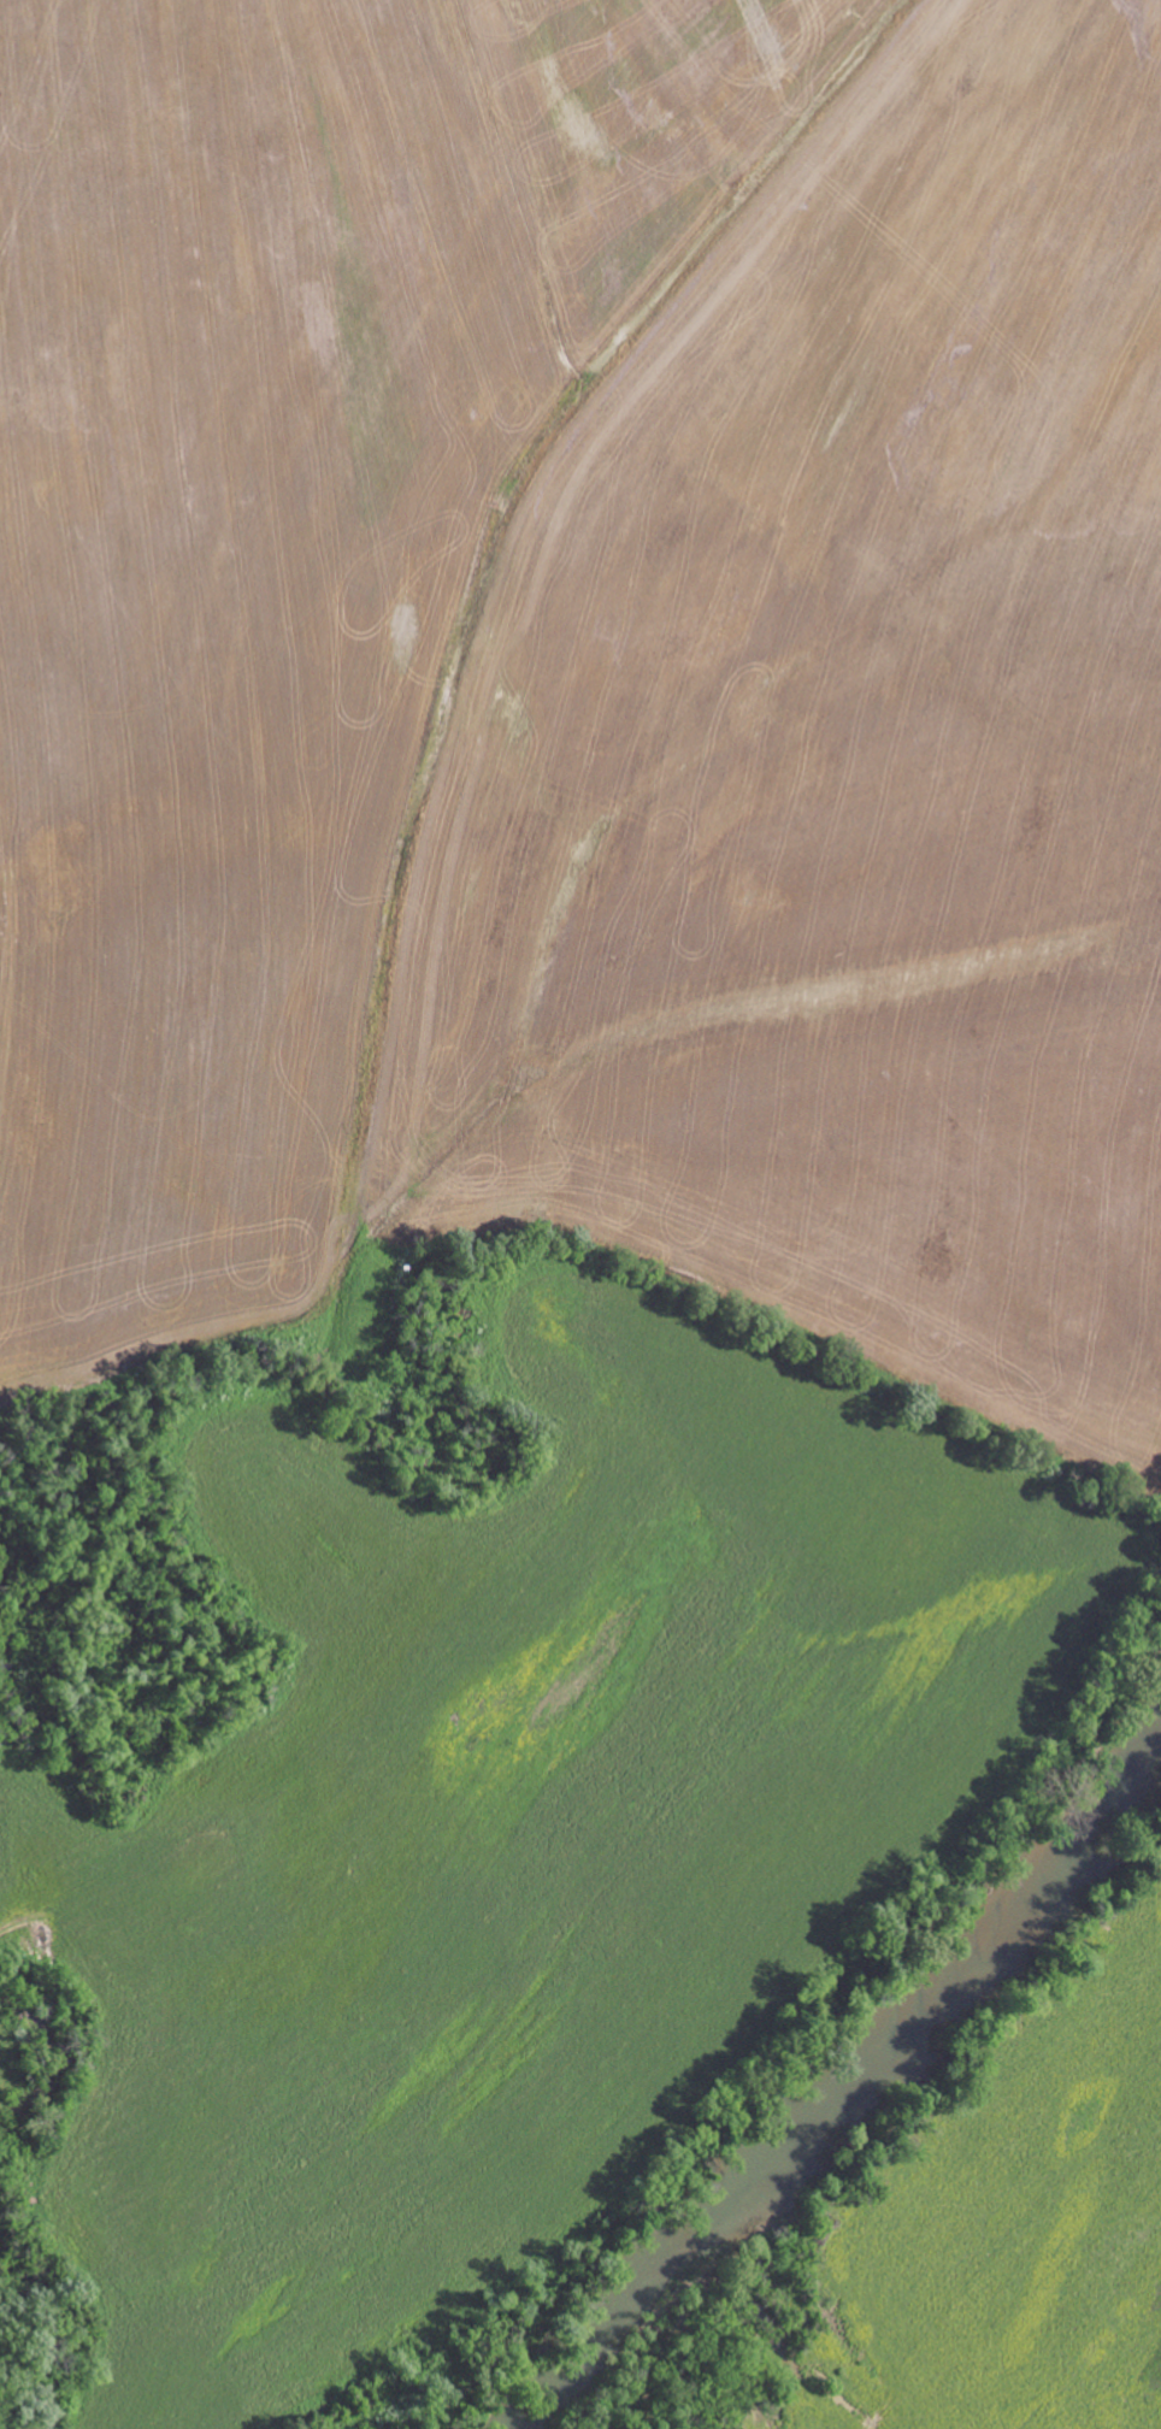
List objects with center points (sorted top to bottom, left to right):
river: (859, 2086)

